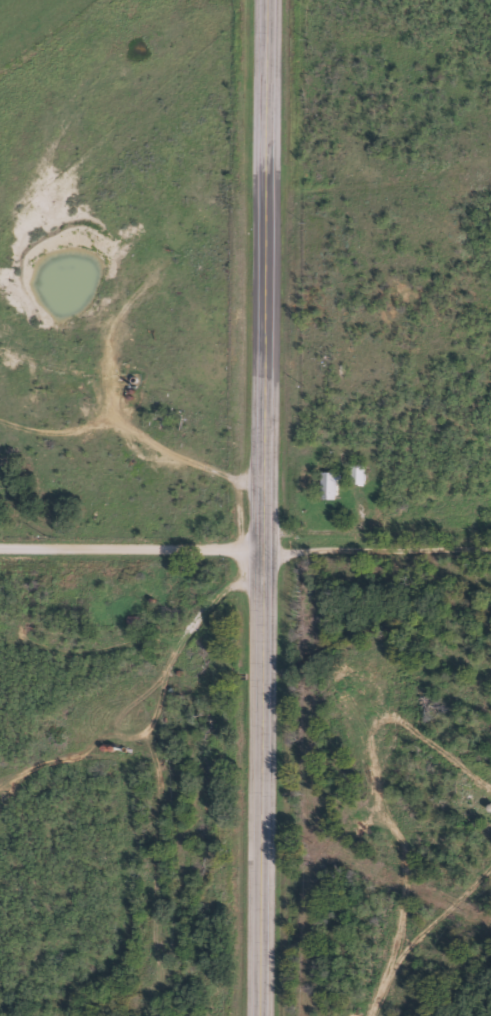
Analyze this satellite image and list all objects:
building: (356, 475)
building: (328, 486)
road: (273, 508)
road: (136, 548)
building: (134, 621)

